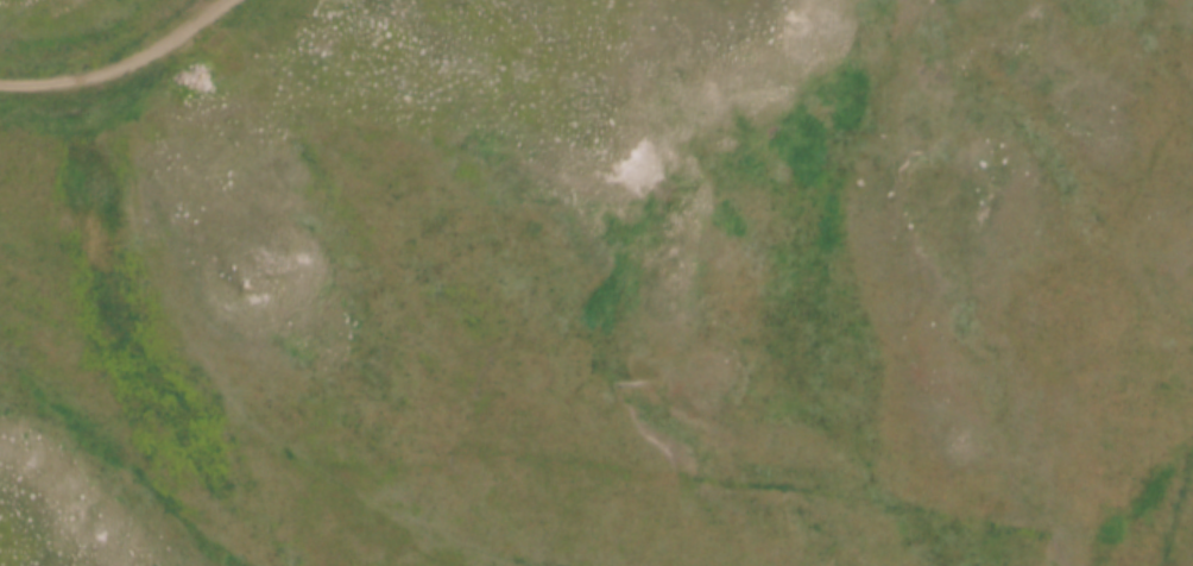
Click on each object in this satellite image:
road: (114, 62)

